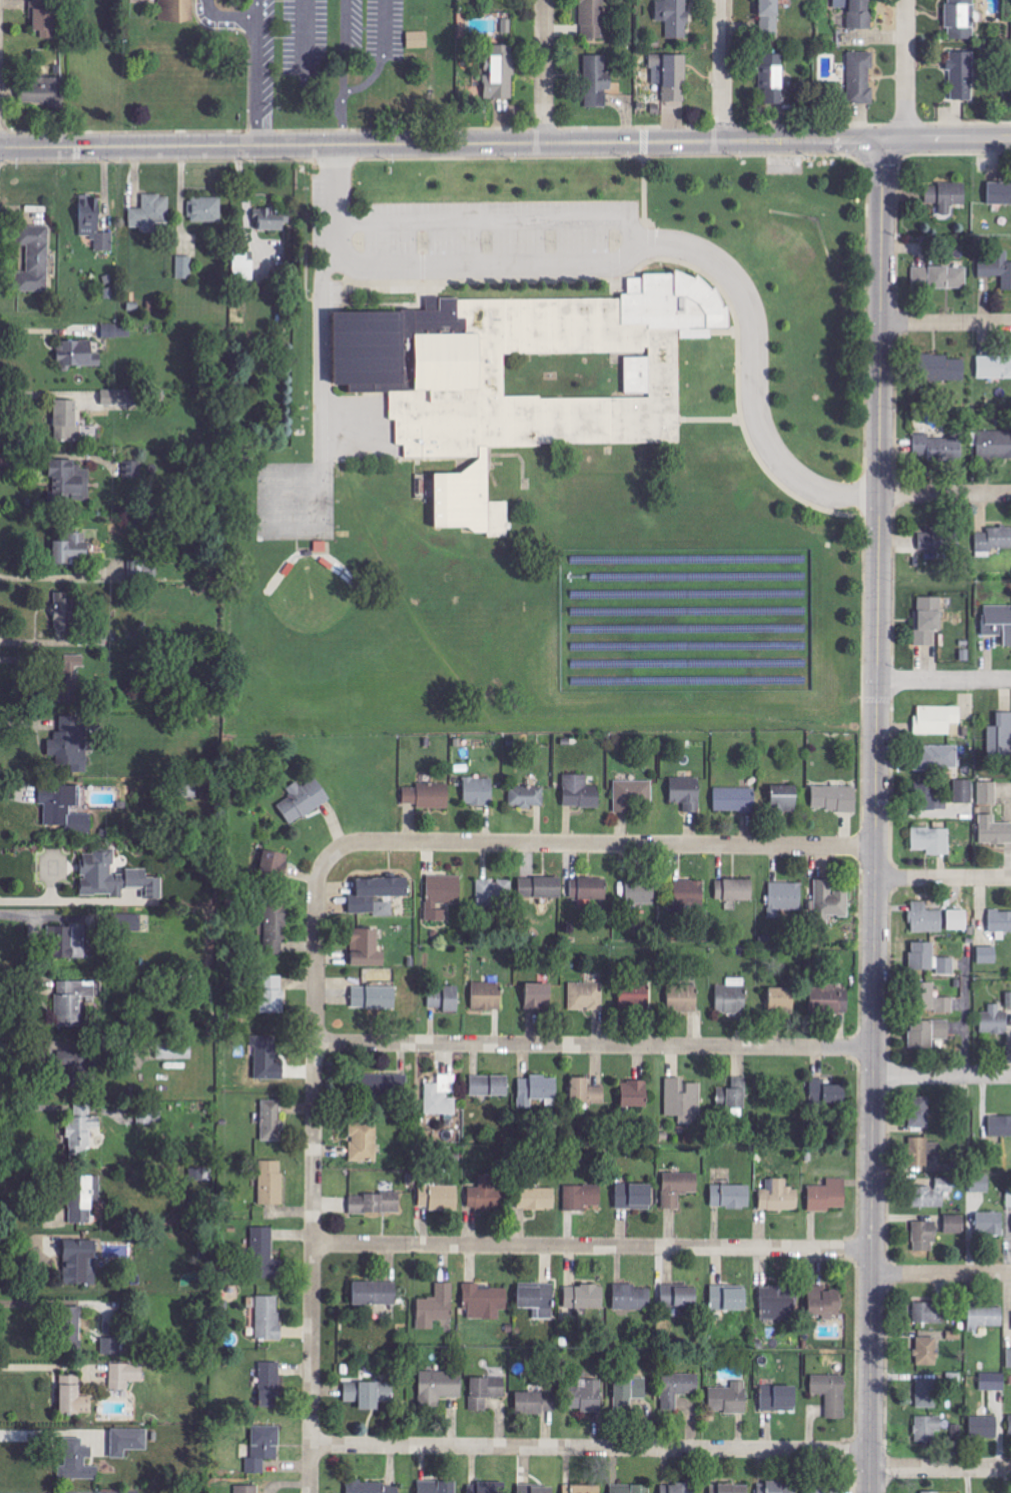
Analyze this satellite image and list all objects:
building: (215, 8)
building: (177, 10)
building: (858, 12)
building: (44, 16)
building: (674, 17)
building: (770, 17)
building: (592, 19)
building: (961, 19)
building: (507, 26)
building: (418, 39)
road: (906, 69)
road: (545, 71)
road: (722, 71)
road: (259, 73)
road: (346, 73)
building: (501, 73)
building: (671, 75)
building: (962, 75)
building: (773, 77)
building: (861, 77)
building: (597, 81)
building: (47, 92)
road: (946, 138)
road: (441, 145)
building: (1000, 193)
building: (947, 195)
building: (206, 209)
building: (152, 212)
building: (982, 213)
building: (271, 220)
building: (94, 223)
road: (636, 247)
building: (35, 258)
building: (244, 265)
building: (185, 267)
building: (997, 268)
building: (940, 277)
road: (946, 322)
building: (117, 330)
building: (994, 367)
building: (944, 370)
building: (547, 389)
building: (121, 397)
building: (67, 420)
building: (994, 445)
building: (939, 447)
building: (70, 481)
road: (945, 495)
building: (994, 539)
building: (926, 542)
building: (944, 542)
building: (72, 550)
building: (136, 569)
building: (65, 610)
building: (929, 620)
building: (998, 622)
building: (72, 677)
road: (943, 680)
building: (937, 720)
building: (1000, 737)
building: (72, 744)
building: (938, 758)
building: (479, 792)
building: (581, 792)
building: (964, 792)
building: (687, 793)
building: (988, 793)
building: (632, 794)
building: (429, 796)
building: (527, 796)
building: (835, 798)
building: (931, 798)
building: (785, 799)
building: (304, 800)
building: (736, 800)
building: (64, 808)
road: (875, 817)
building: (994, 831)
building: (932, 840)
road: (621, 844)
building: (274, 865)
building: (101, 875)
road: (943, 878)
building: (145, 883)
building: (541, 888)
building: (589, 889)
building: (735, 890)
building: (495, 892)
building: (439, 893)
building: (641, 893)
building: (377, 895)
building: (689, 895)
building: (786, 898)
building: (831, 901)
building: (958, 920)
building: (927, 921)
building: (1000, 922)
building: (276, 931)
building: (68, 942)
building: (367, 949)
building: (988, 955)
building: (931, 960)
building: (273, 995)
building: (488, 996)
building: (540, 996)
building: (732, 996)
building: (586, 997)
building: (635, 997)
building: (374, 998)
building: (445, 999)
building: (684, 999)
building: (783, 999)
building: (934, 1000)
building: (1009, 1000)
building: (830, 1001)
building: (74, 1002)
building: (995, 1021)
building: (928, 1034)
road: (594, 1045)
building: (175, 1051)
building: (80, 1067)
road: (941, 1076)
building: (387, 1086)
building: (490, 1086)
building: (538, 1091)
building: (587, 1093)
building: (636, 1094)
building: (734, 1094)
building: (828, 1094)
building: (442, 1096)
building: (683, 1101)
building: (920, 1113)
building: (272, 1121)
building: (1000, 1127)
building: (82, 1132)
building: (364, 1142)
road: (313, 1152)
building: (924, 1152)
building: (202, 1175)
building: (272, 1183)
building: (981, 1184)
building: (679, 1188)
building: (488, 1194)
building: (934, 1194)
building: (829, 1196)
building: (583, 1197)
building: (635, 1197)
building: (731, 1197)
building: (779, 1197)
building: (85, 1198)
building: (441, 1199)
building: (538, 1199)
building: (1009, 1199)
building: (375, 1204)
building: (955, 1225)
building: (991, 1225)
building: (924, 1235)
road: (591, 1247)
building: (265, 1255)
building: (81, 1263)
road: (940, 1274)
building: (376, 1294)
building: (680, 1297)
building: (585, 1298)
building: (632, 1298)
building: (538, 1299)
building: (729, 1300)
building: (486, 1302)
building: (824, 1303)
building: (778, 1304)
building: (436, 1308)
building: (928, 1313)
building: (986, 1318)
building: (268, 1319)
building: (72, 1321)
building: (111, 1347)
building: (928, 1350)
building: (1009, 1358)
building: (126, 1375)
building: (993, 1381)
building: (270, 1384)
building: (440, 1385)
building: (678, 1387)
building: (486, 1390)
building: (629, 1391)
building: (369, 1393)
building: (832, 1393)
building: (927, 1393)
building: (587, 1396)
building: (730, 1397)
building: (75, 1400)
building: (536, 1402)
building: (1010, 1423)
building: (984, 1426)
building: (929, 1428)
building: (128, 1441)
building: (263, 1447)
road: (589, 1448)
building: (79, 1460)
road: (939, 1469)
building: (437, 1486)
building: (373, 1487)
building: (778, 1487)
building: (484, 1488)
building: (536, 1488)
building: (631, 1488)
building: (681, 1488)
building: (730, 1488)
building: (825, 1488)
building: (247, 1489)
building: (583, 1489)
building: (931, 1492)

